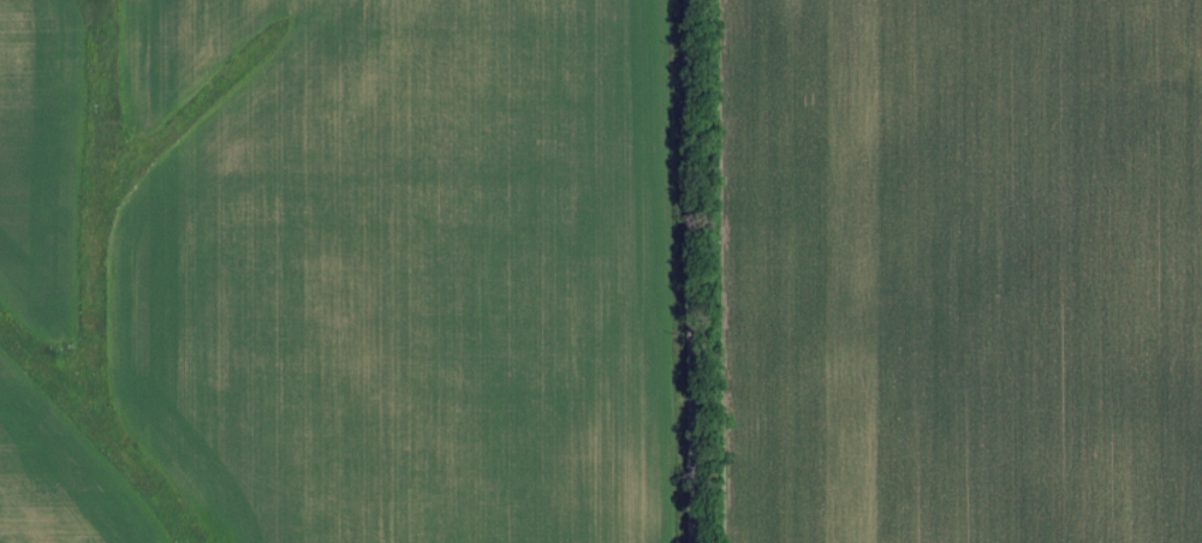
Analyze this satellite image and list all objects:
road: (683, 271)

